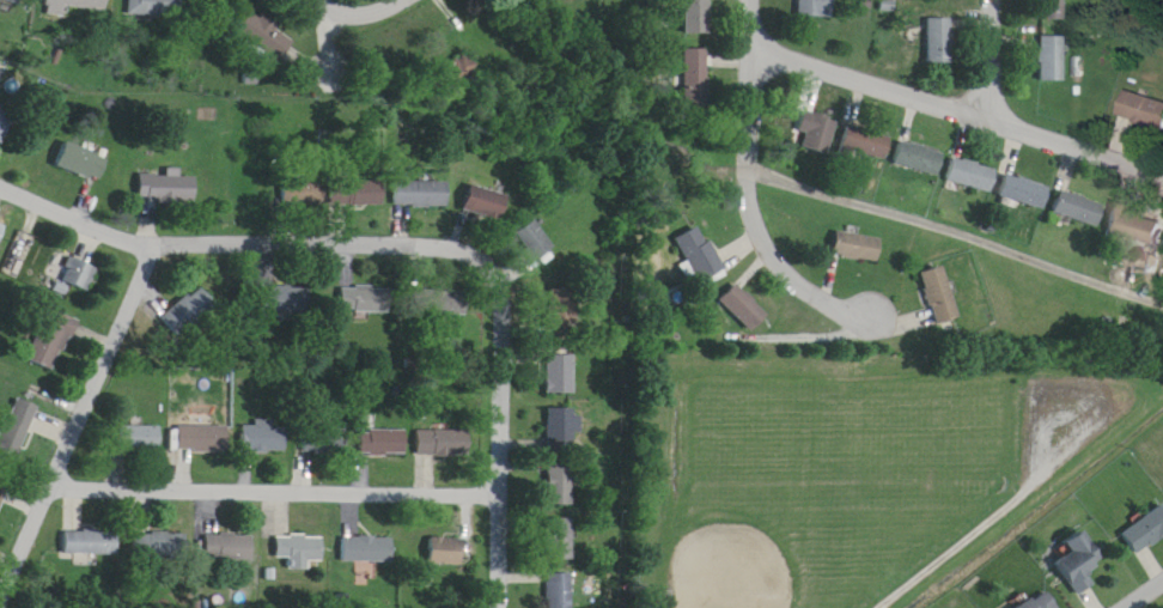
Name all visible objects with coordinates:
building: (18, 0)
building: (162, 0)
road: (354, 0)
building: (558, 0)
building: (1047, 1)
building: (78, 4)
building: (693, 7)
building: (817, 7)
road: (464, 16)
building: (252, 18)
building: (933, 22)
building: (1043, 39)
building: (942, 41)
road: (992, 53)
building: (693, 56)
building: (449, 57)
building: (1053, 57)
road: (328, 61)
road: (940, 90)
building: (1139, 91)
building: (1143, 109)
building: (811, 113)
building: (857, 124)
building: (2, 126)
building: (818, 130)
building: (913, 139)
building: (866, 144)
building: (966, 156)
building: (921, 158)
building: (80, 162)
building: (1019, 171)
building: (973, 175)
building: (166, 188)
building: (1072, 189)
building: (1025, 191)
building: (303, 193)
building: (357, 193)
building: (420, 194)
road: (754, 199)
building: (486, 202)
building: (1125, 203)
building: (1078, 208)
building: (851, 227)
building: (1143, 227)
building: (1, 230)
road: (220, 232)
building: (698, 237)
building: (535, 243)
building: (858, 248)
building: (78, 274)
building: (928, 278)
building: (741, 287)
building: (940, 296)
building: (286, 299)
building: (365, 300)
building: (450, 303)
building: (747, 308)
building: (561, 309)
building: (188, 312)
building: (55, 342)
building: (560, 375)
road: (73, 408)
road: (500, 408)
building: (17, 428)
building: (561, 430)
building: (202, 438)
building: (264, 438)
building: (141, 439)
building: (327, 440)
building: (445, 440)
building: (385, 442)
park: (853, 457)
road: (274, 474)
building: (559, 485)
building: (2, 495)
building: (1144, 530)
road: (962, 533)
building: (559, 539)
park: (760, 539)
building: (90, 542)
building: (159, 545)
building: (230, 547)
building: (370, 549)
building: (303, 552)
building: (447, 552)
building: (1078, 564)
road: (1137, 589)
building: (560, 590)
building: (1039, 601)

